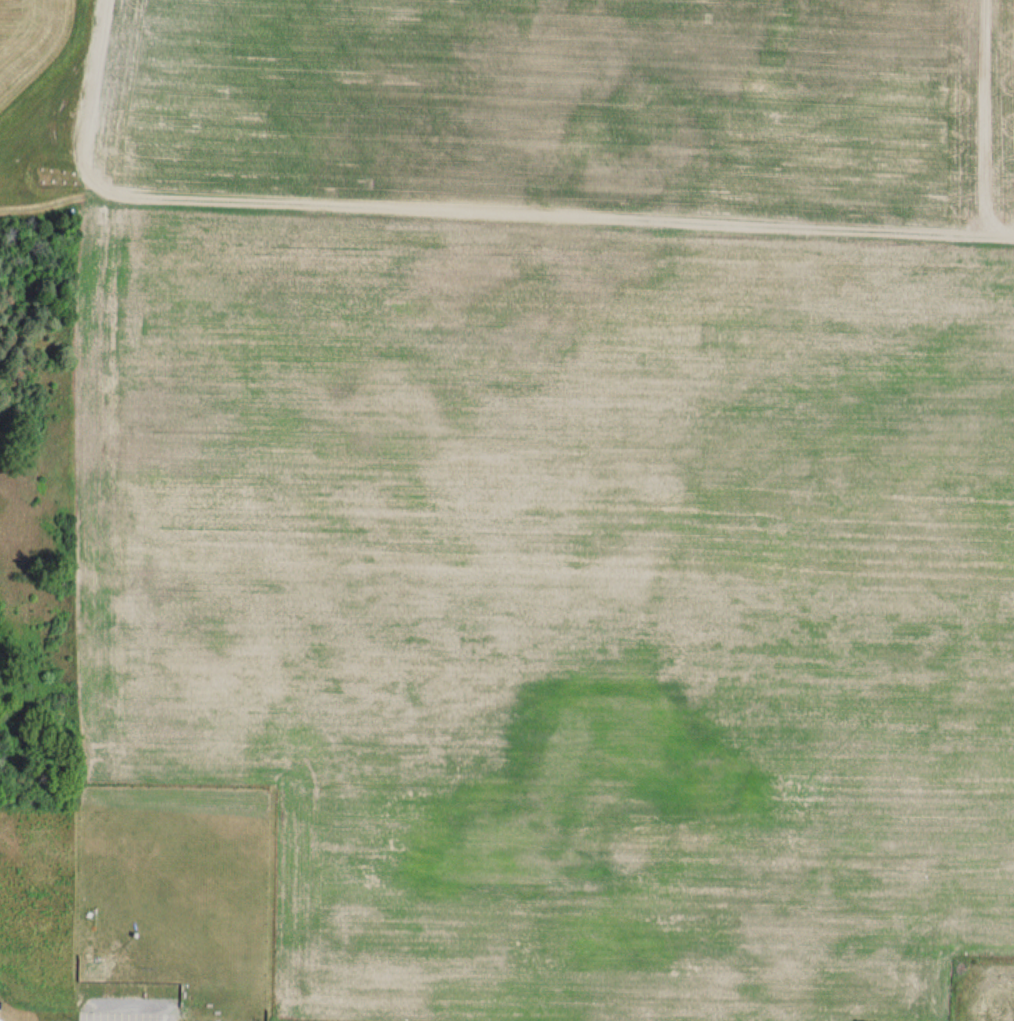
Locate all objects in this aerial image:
building: (184, 1019)

